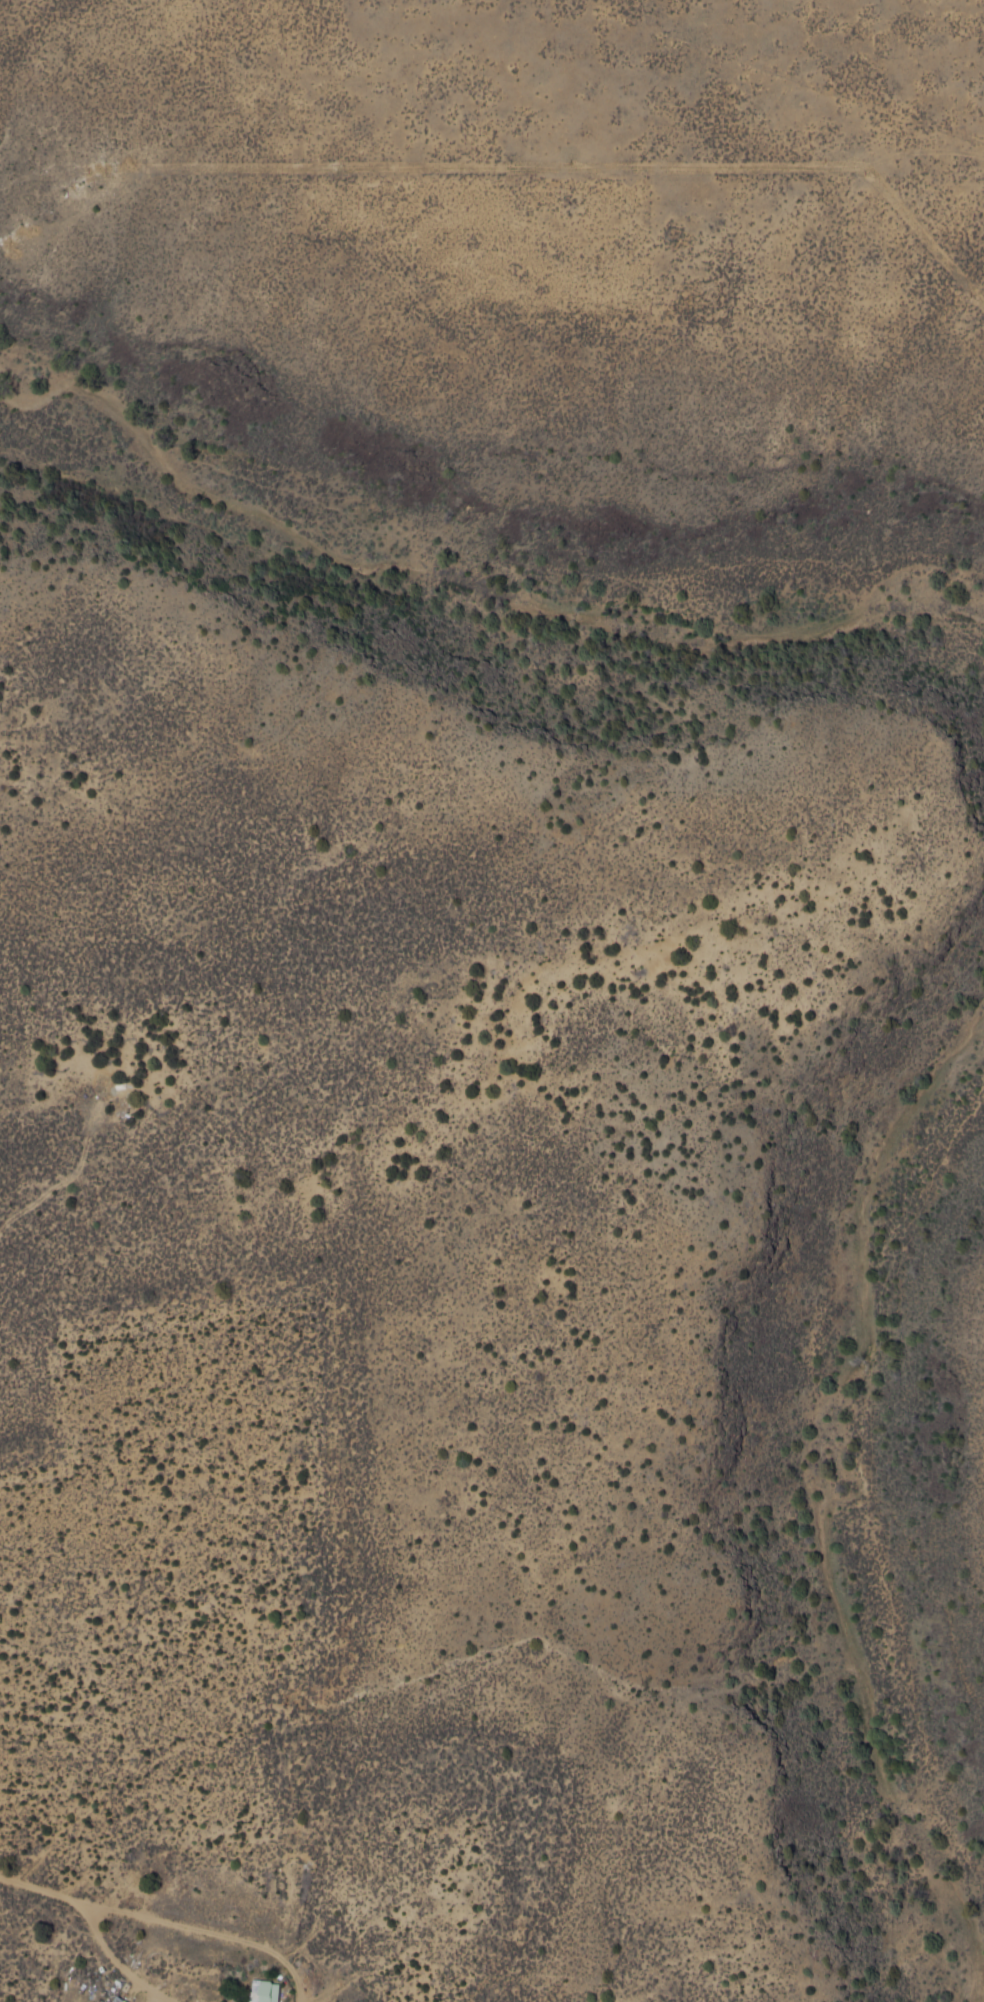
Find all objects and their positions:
road: (355, 1975)

